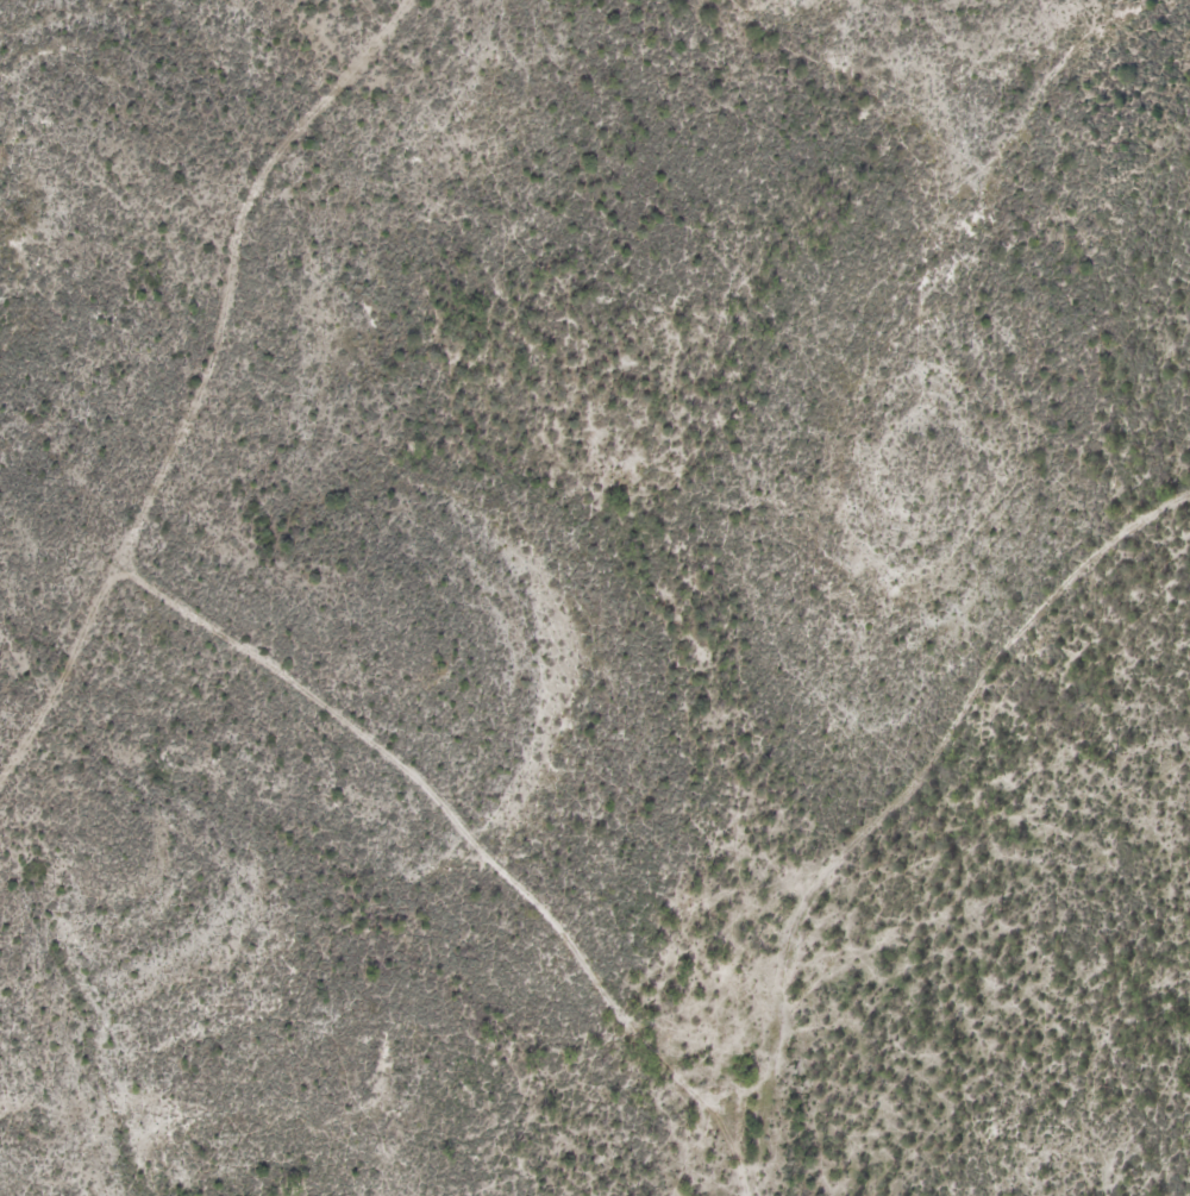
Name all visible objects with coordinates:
road: (205, 388)
road: (896, 801)
road: (482, 837)

